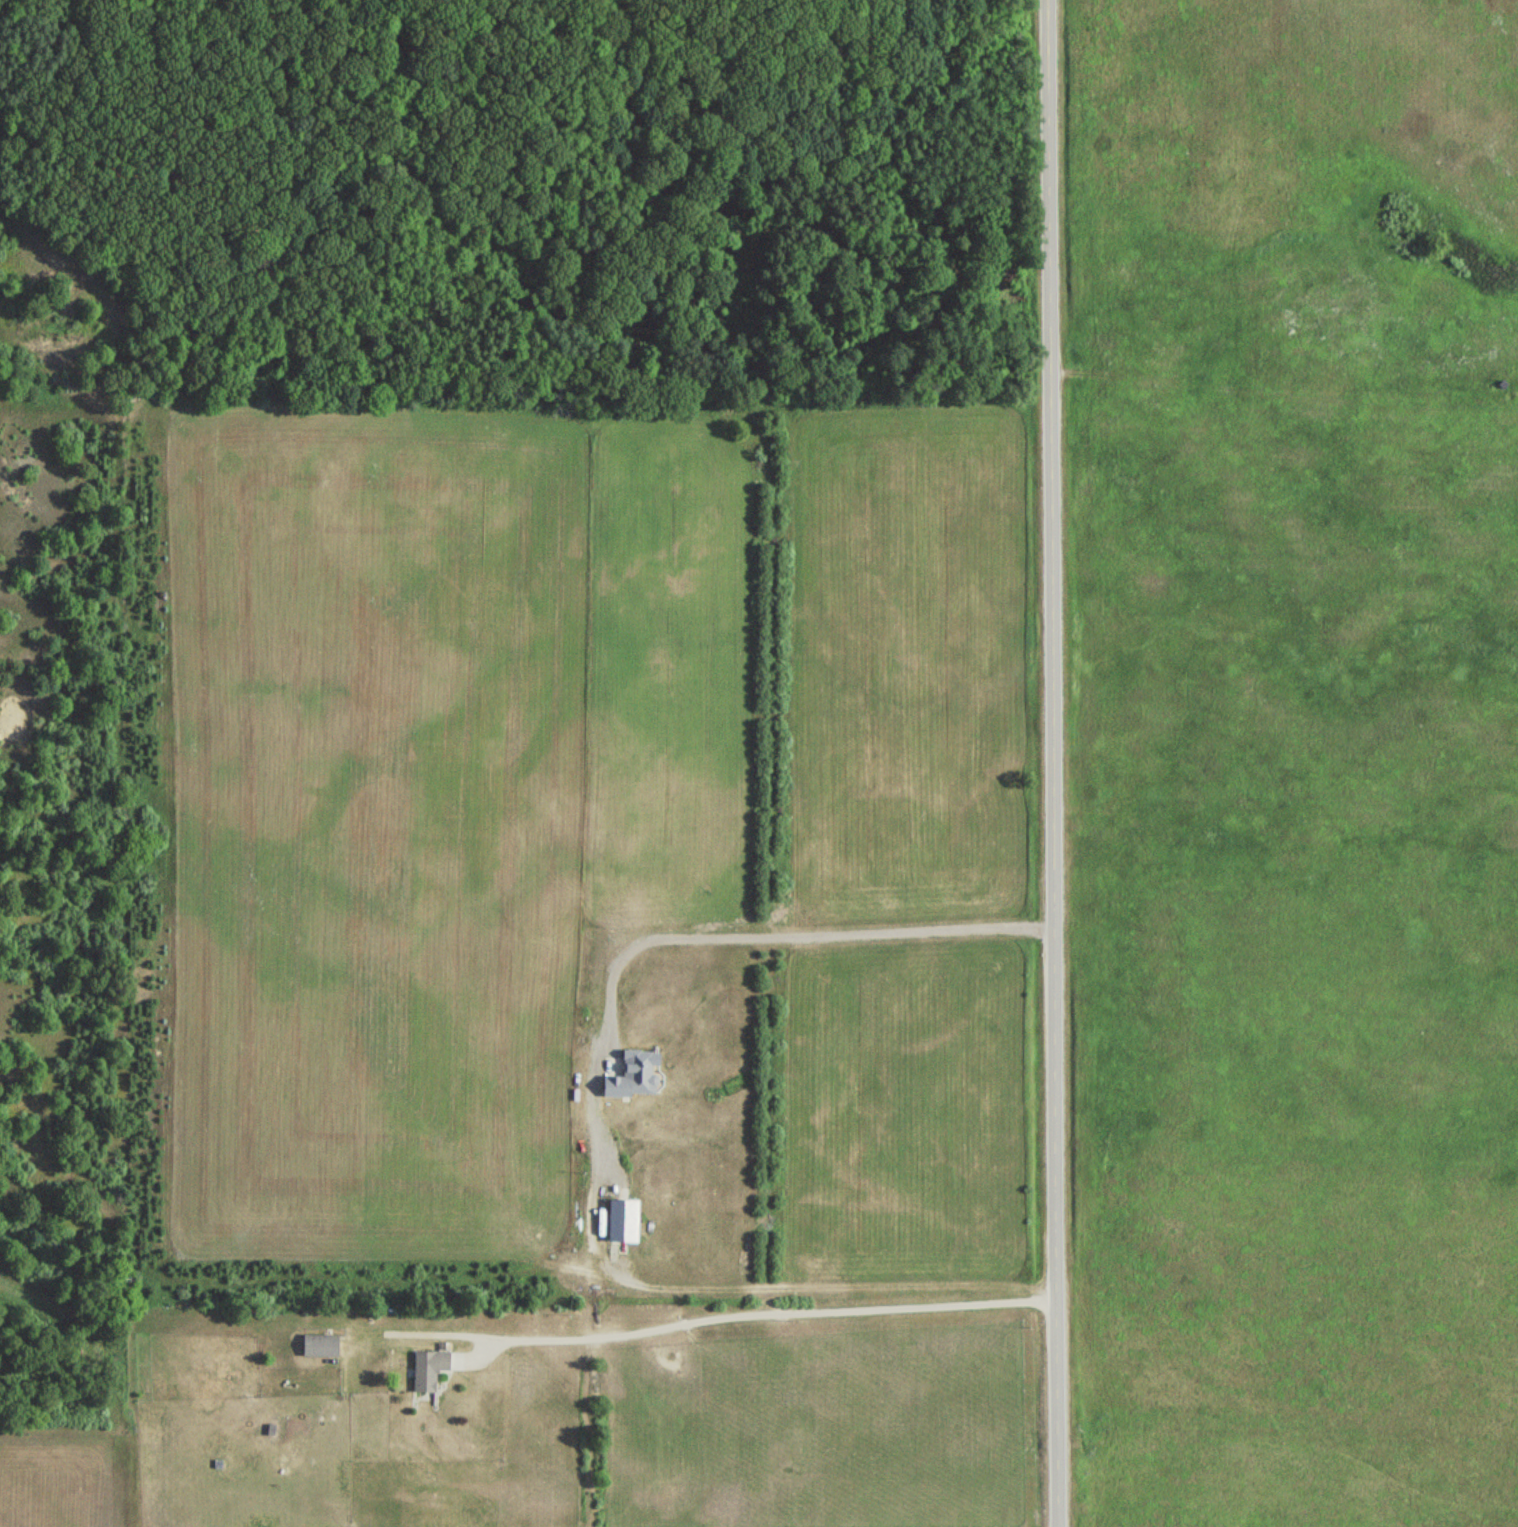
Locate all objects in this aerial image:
road: (1274, 415)
road: (1055, 763)
road: (731, 938)
road: (757, 1314)
building: (319, 1346)
building: (425, 1369)

